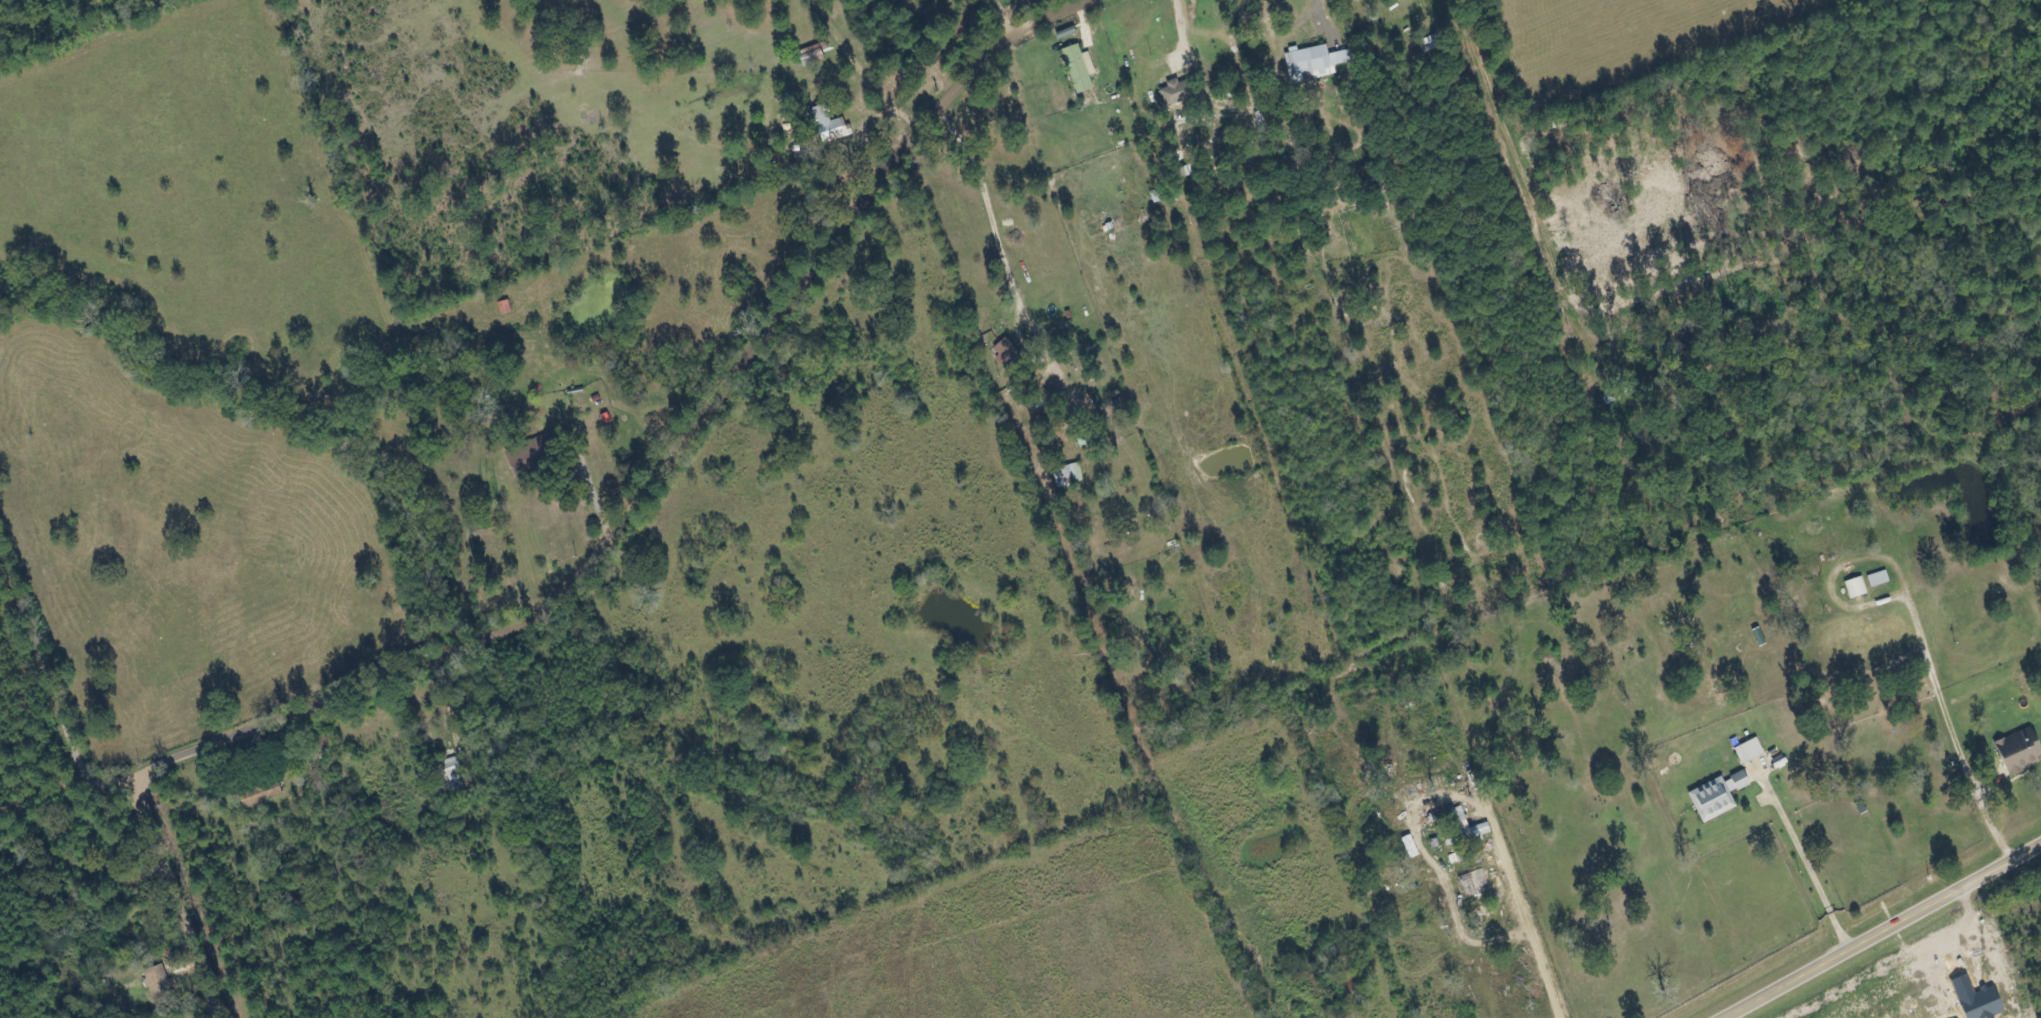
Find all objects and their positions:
building: (1068, 38)
building: (1316, 62)
building: (1079, 68)
building: (1173, 93)
building: (828, 123)
building: (1006, 350)
road: (664, 463)
building: (1069, 475)
building: (1879, 578)
building: (1856, 587)
road: (47, 688)
building: (1750, 750)
building: (2019, 752)
building: (452, 775)
building: (261, 794)
building: (1718, 796)
building: (1462, 825)
road: (170, 897)
road: (1881, 931)
building: (160, 970)

